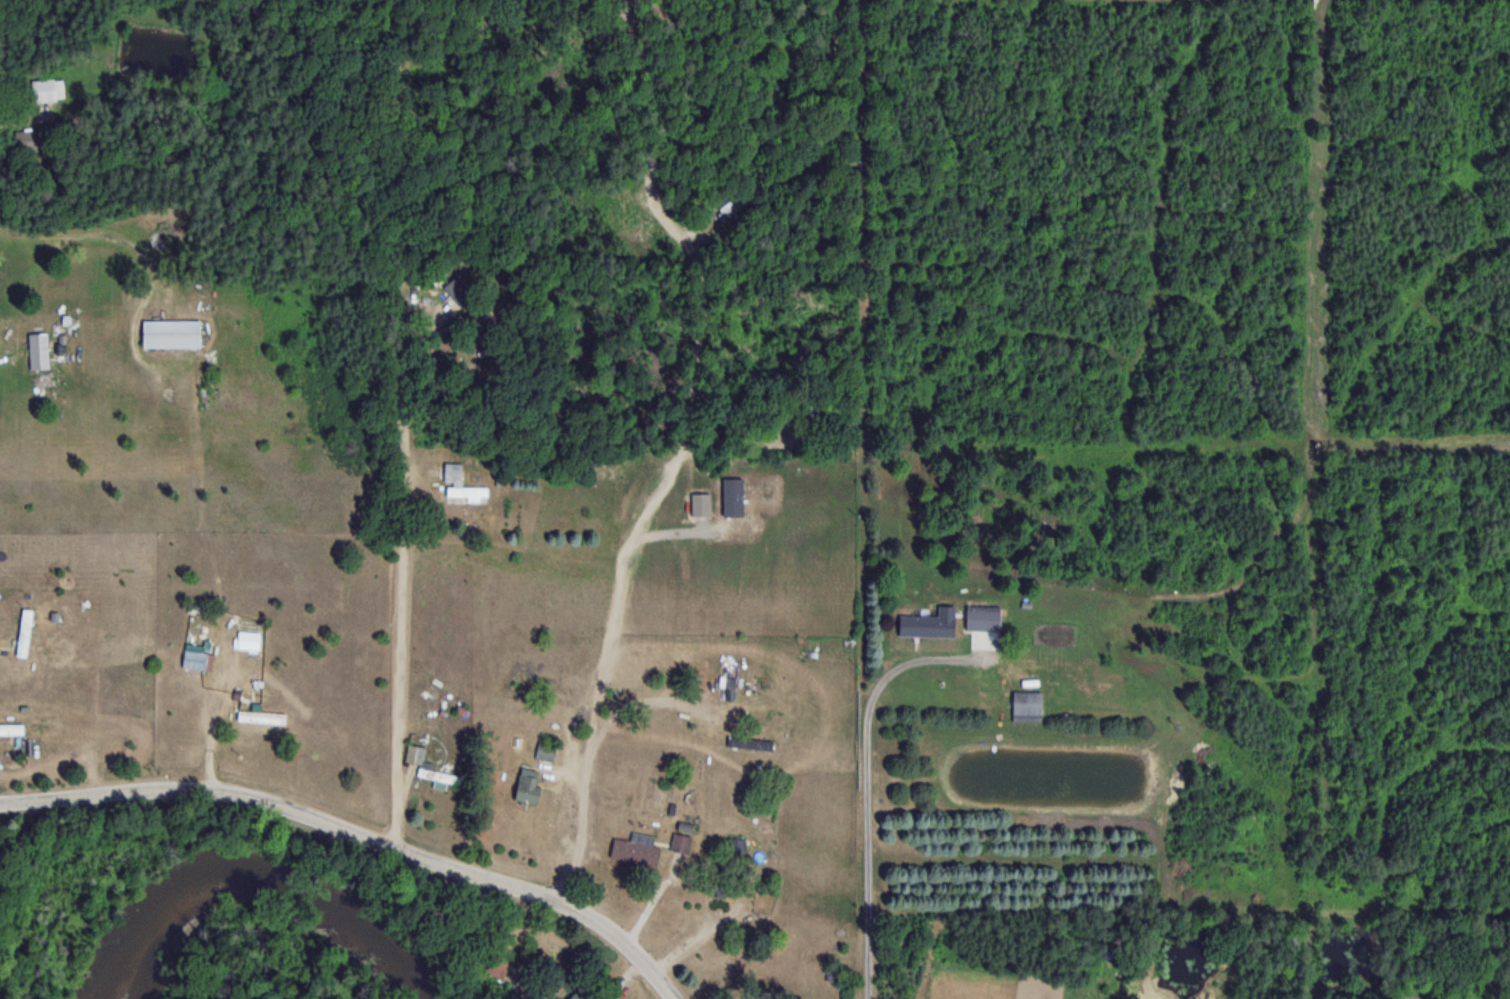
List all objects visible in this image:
building: (47, 89)
road: (26, 117)
building: (27, 140)
road: (78, 233)
building: (459, 289)
building: (170, 333)
building: (38, 350)
road: (674, 447)
building: (462, 483)
building: (983, 618)
building: (928, 623)
building: (25, 632)
building: (194, 660)
road: (397, 677)
building: (1093, 683)
road: (655, 698)
building: (1027, 706)
building: (261, 717)
building: (11, 729)
building: (750, 743)
road: (865, 747)
building: (545, 751)
building: (416, 763)
building: (527, 785)
road: (361, 829)
building: (681, 842)
building: (736, 849)
building: (636, 850)
river: (264, 873)
building: (724, 885)
building: (578, 995)

